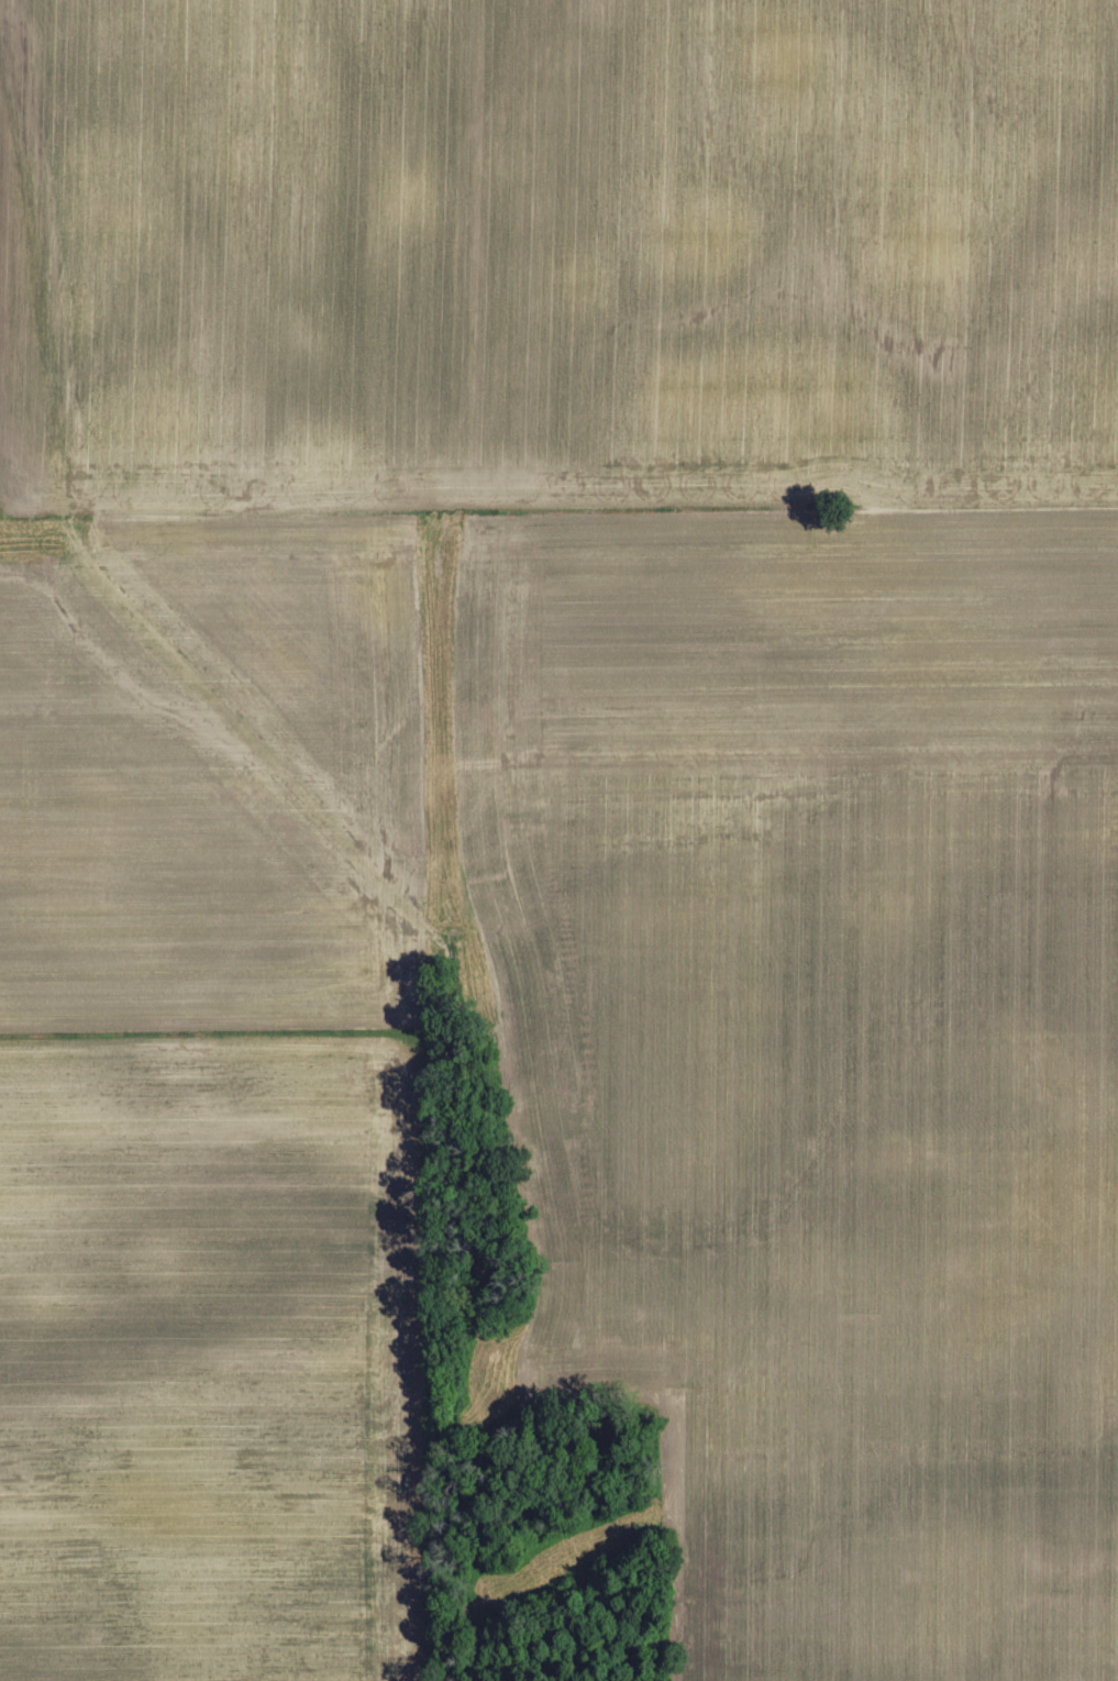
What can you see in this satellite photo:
crop: (561, 812)

